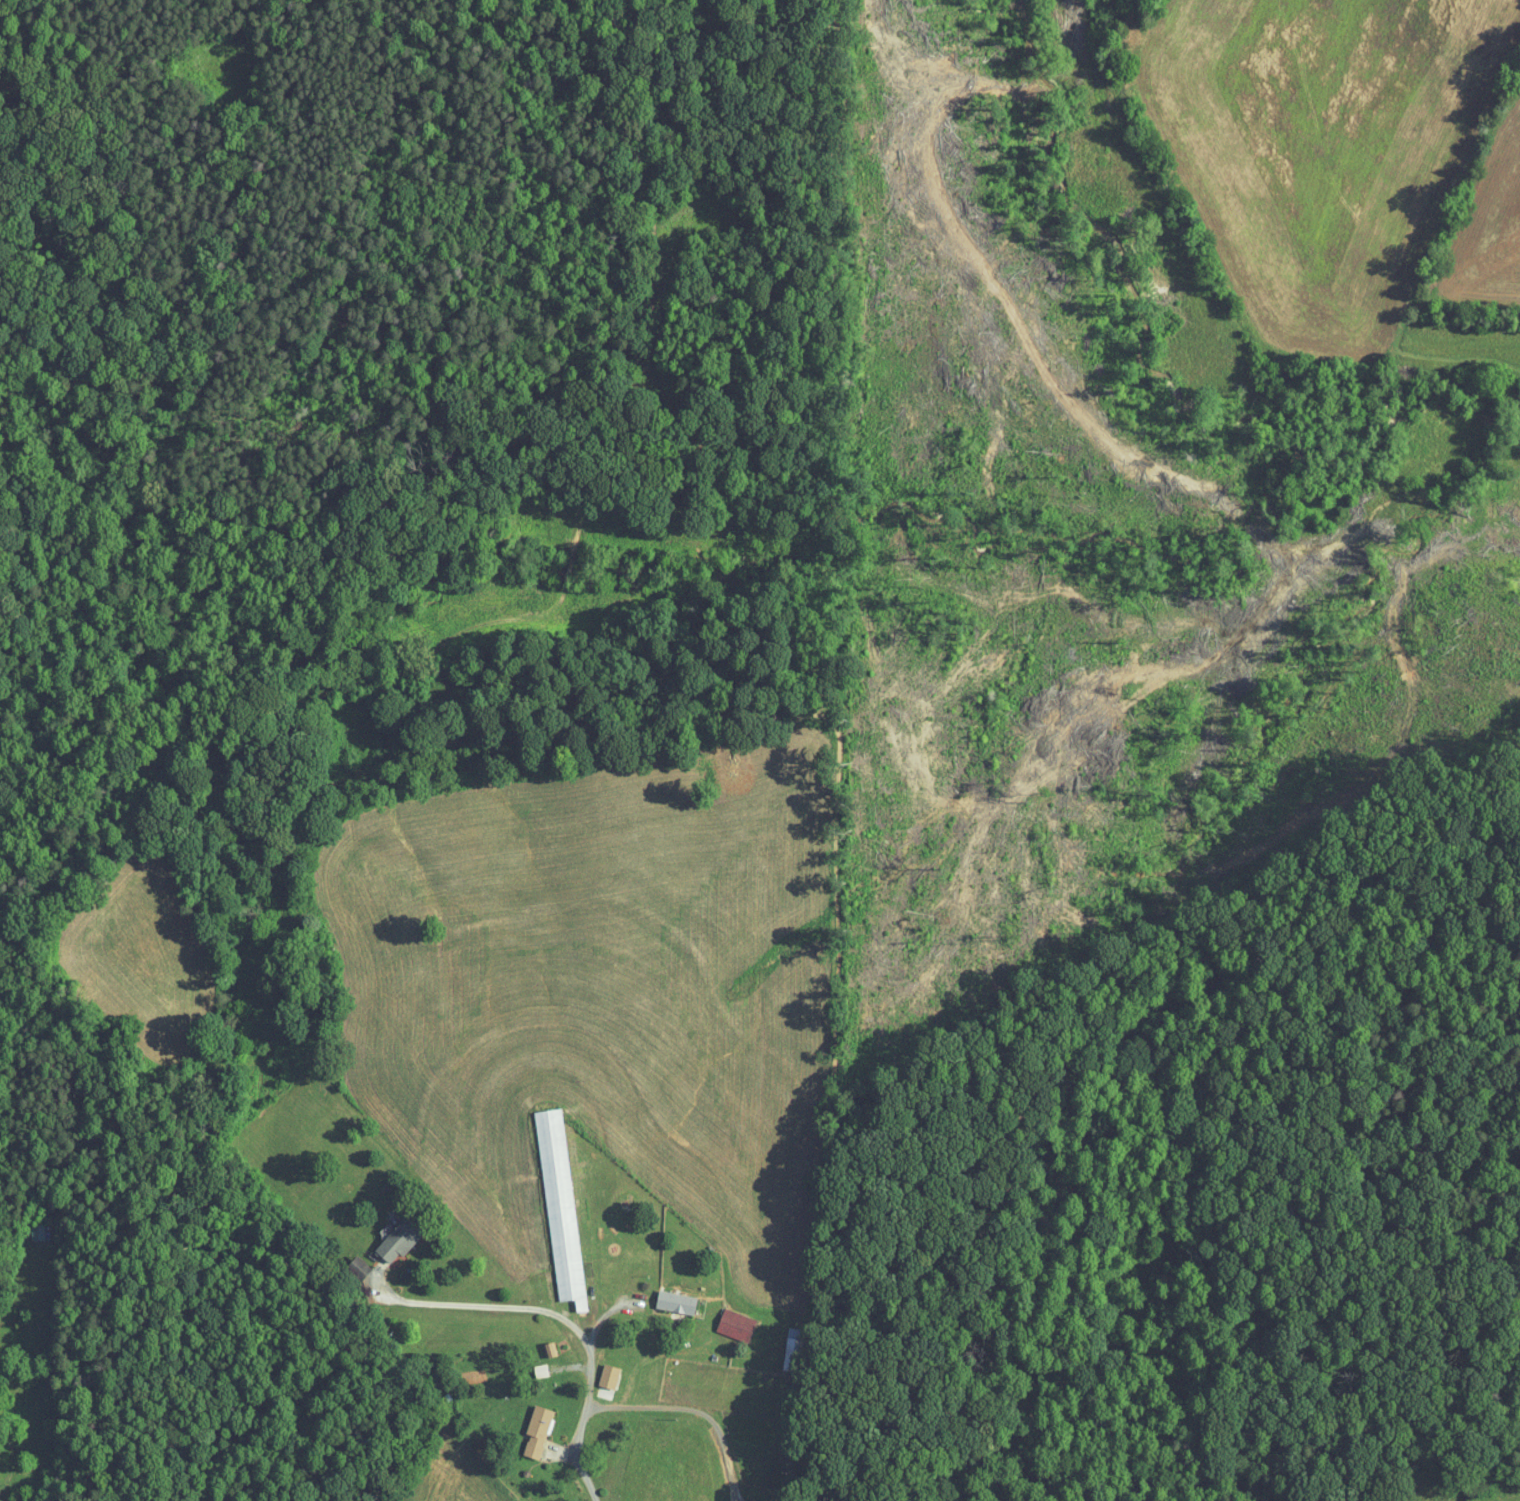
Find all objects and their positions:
building: (560, 1207)
building: (37, 1231)
building: (391, 1242)
building: (677, 1302)
road: (526, 1307)
building: (737, 1325)
building: (549, 1349)
building: (794, 1349)
building: (610, 1375)
road: (642, 1407)
building: (538, 1431)

